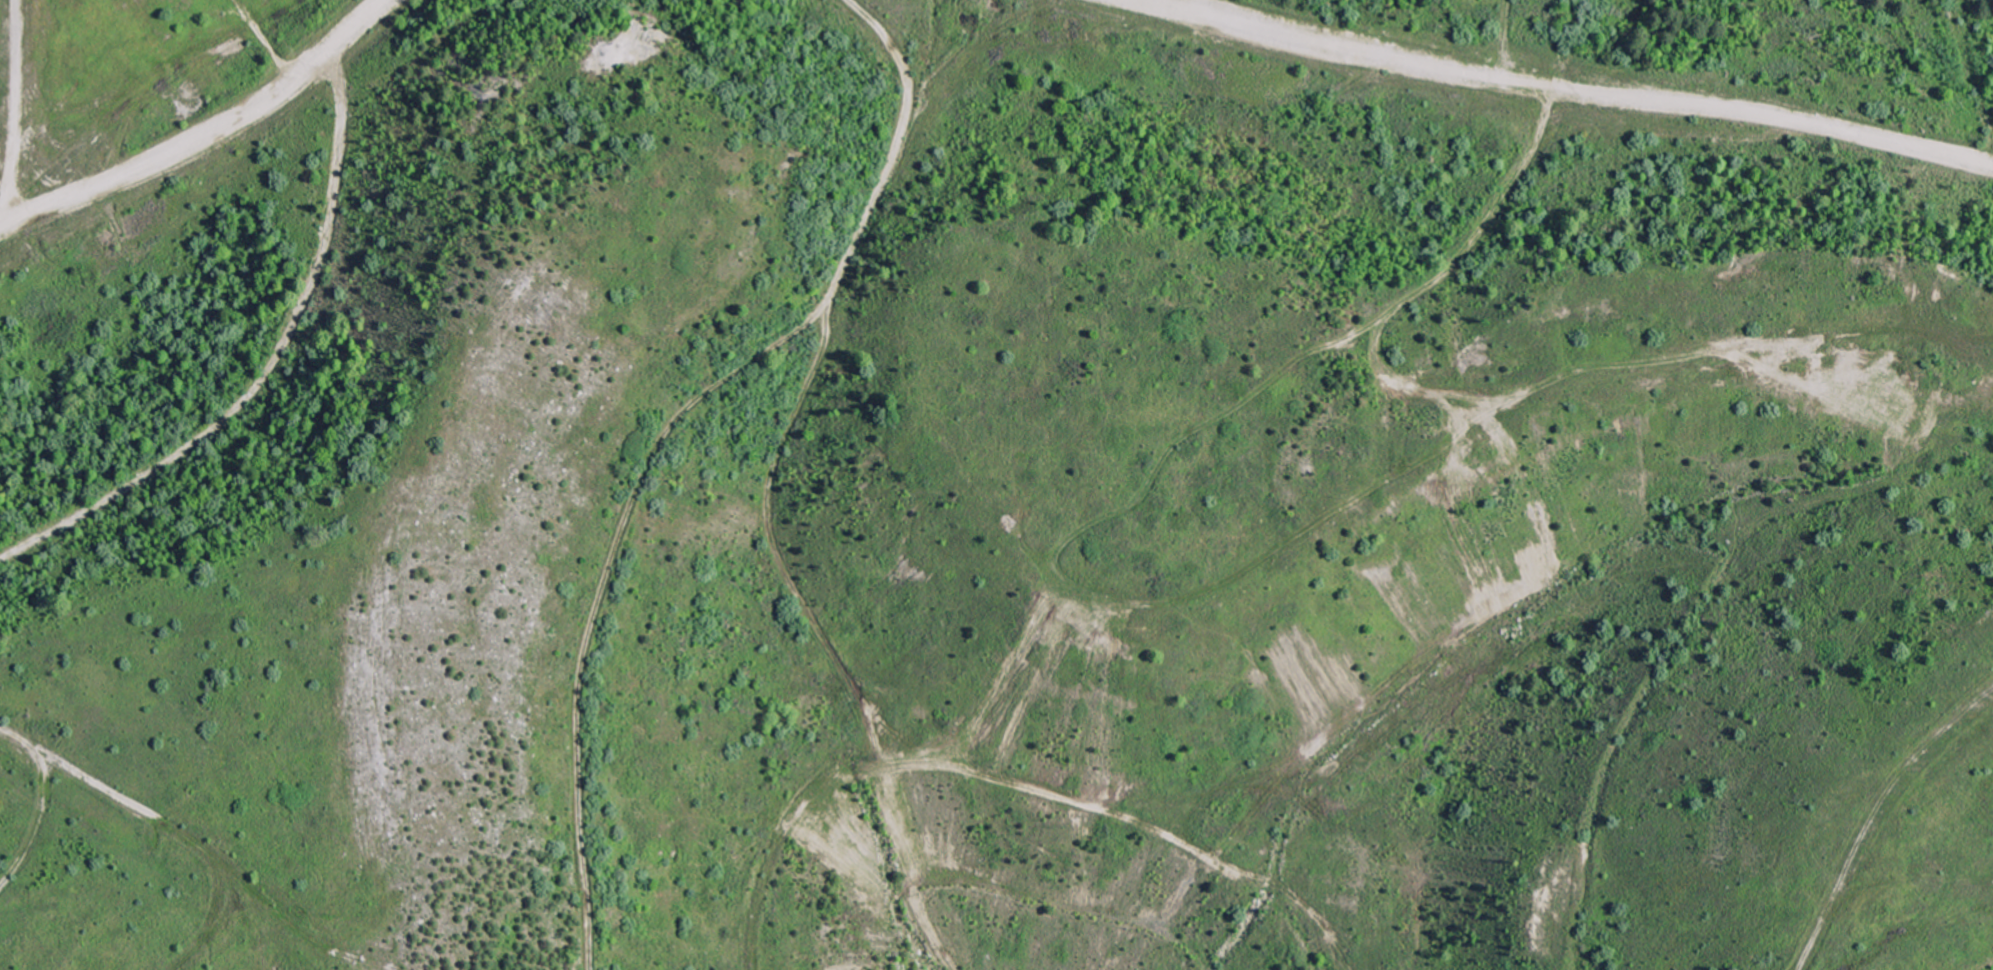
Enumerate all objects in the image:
road: (1554, 99)
road: (205, 142)

